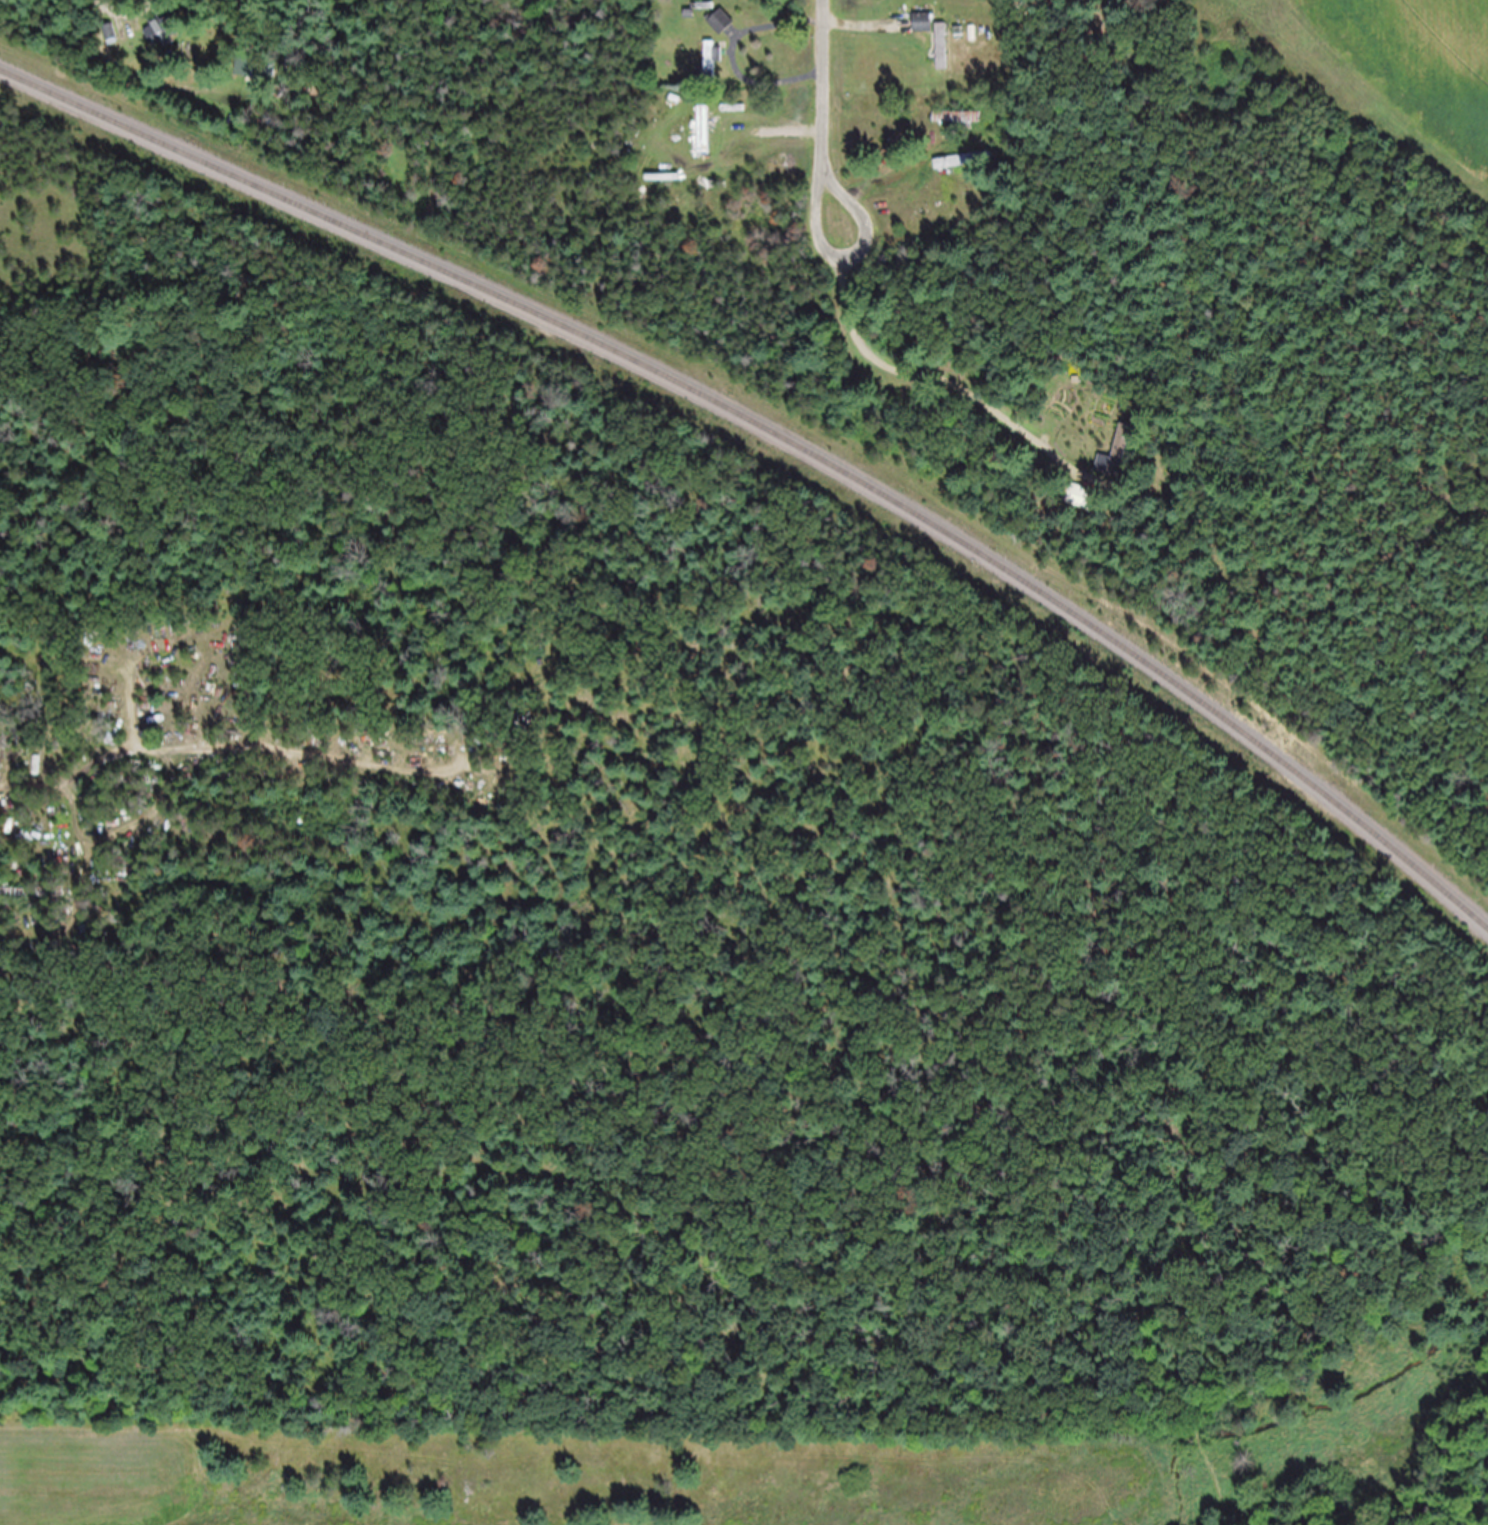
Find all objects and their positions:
building: (721, 31)
building: (921, 32)
building: (162, 42)
building: (111, 44)
building: (942, 56)
building: (711, 71)
road: (824, 121)
building: (959, 128)
building: (704, 141)
building: (959, 171)
railway: (780, 445)

